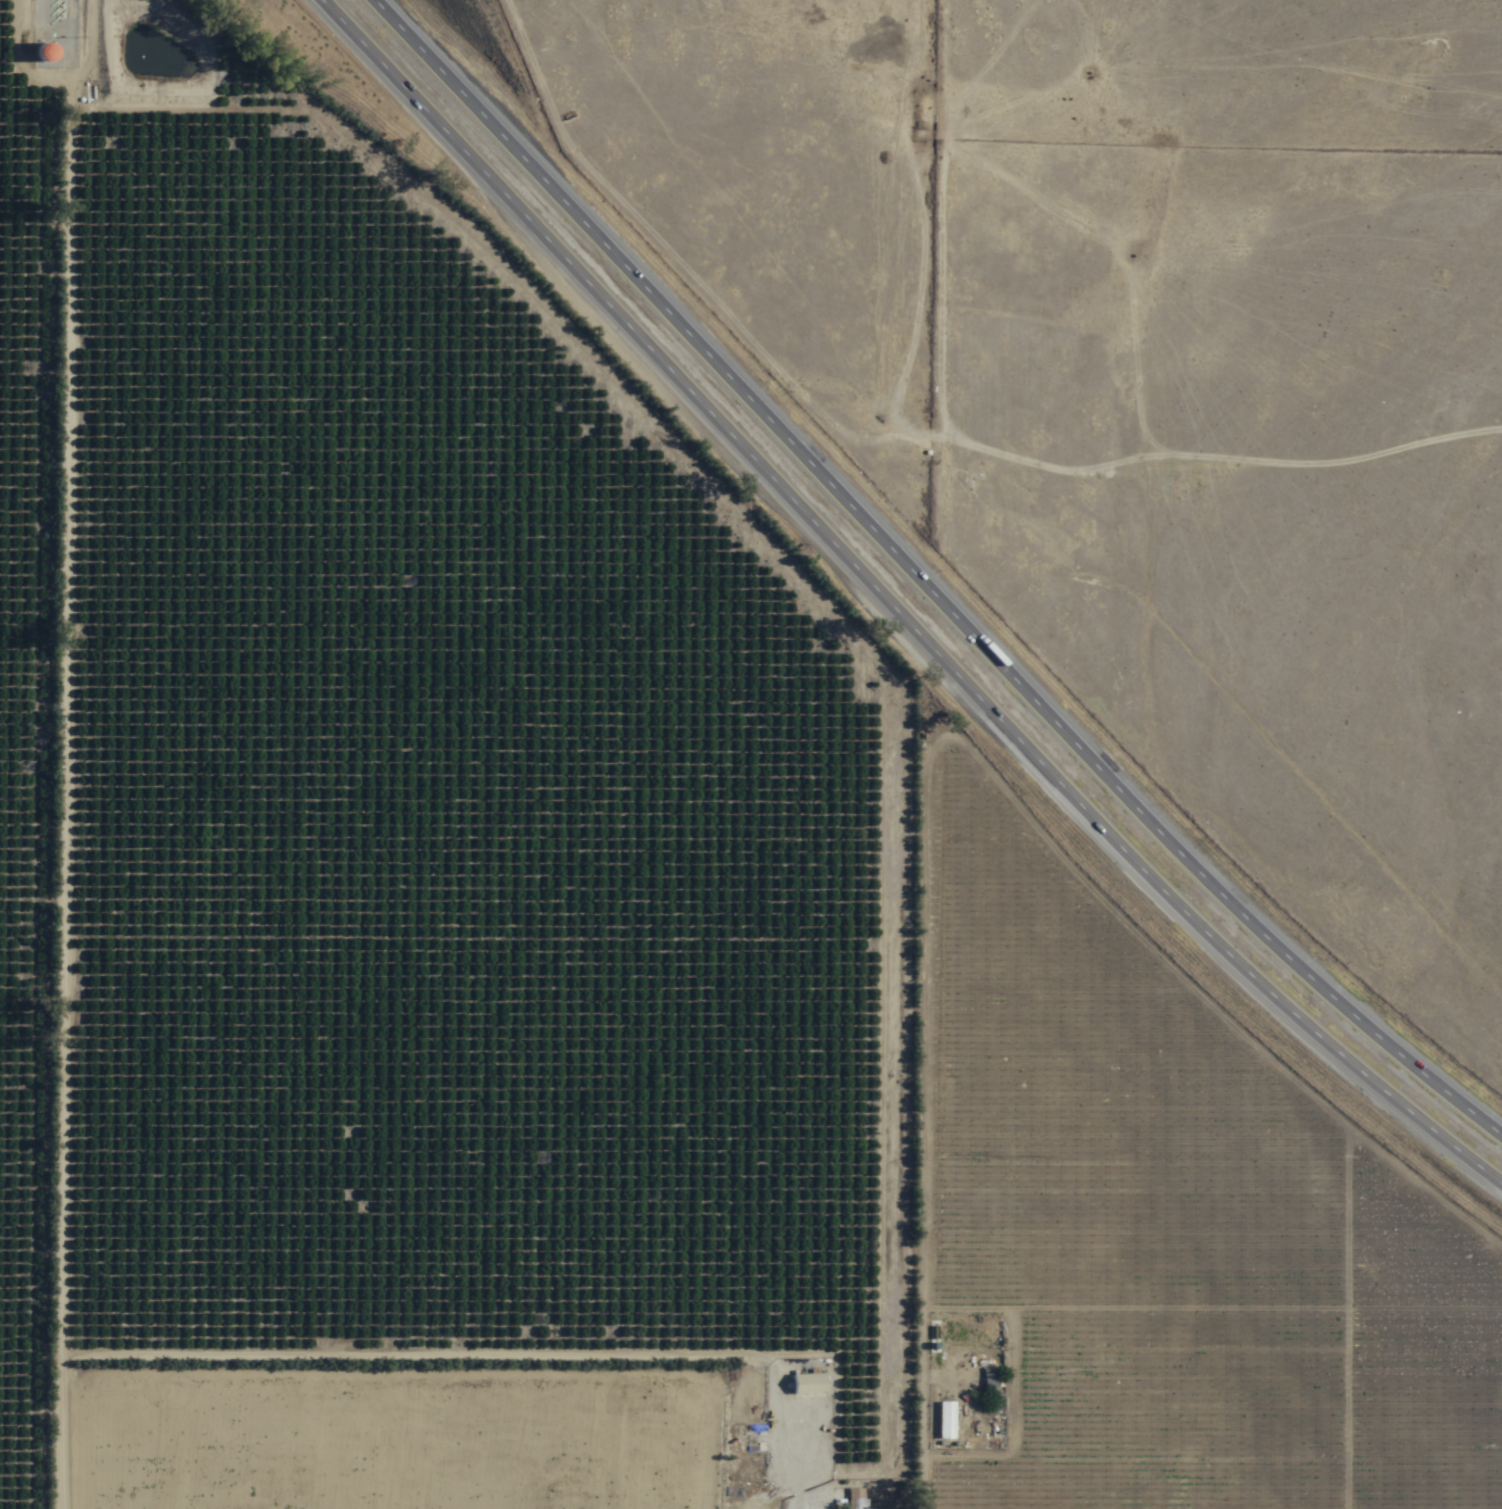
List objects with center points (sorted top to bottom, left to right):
wastewater plant: (158, 50)
building: (45, 51)
road: (926, 576)
road: (888, 610)
building: (168, 615)
building: (0, 623)
road: (41, 778)
crop: (420, 852)
building: (217, 994)
building: (948, 1334)
building: (989, 1378)
building: (809, 1384)
building: (945, 1420)
building: (855, 1499)

